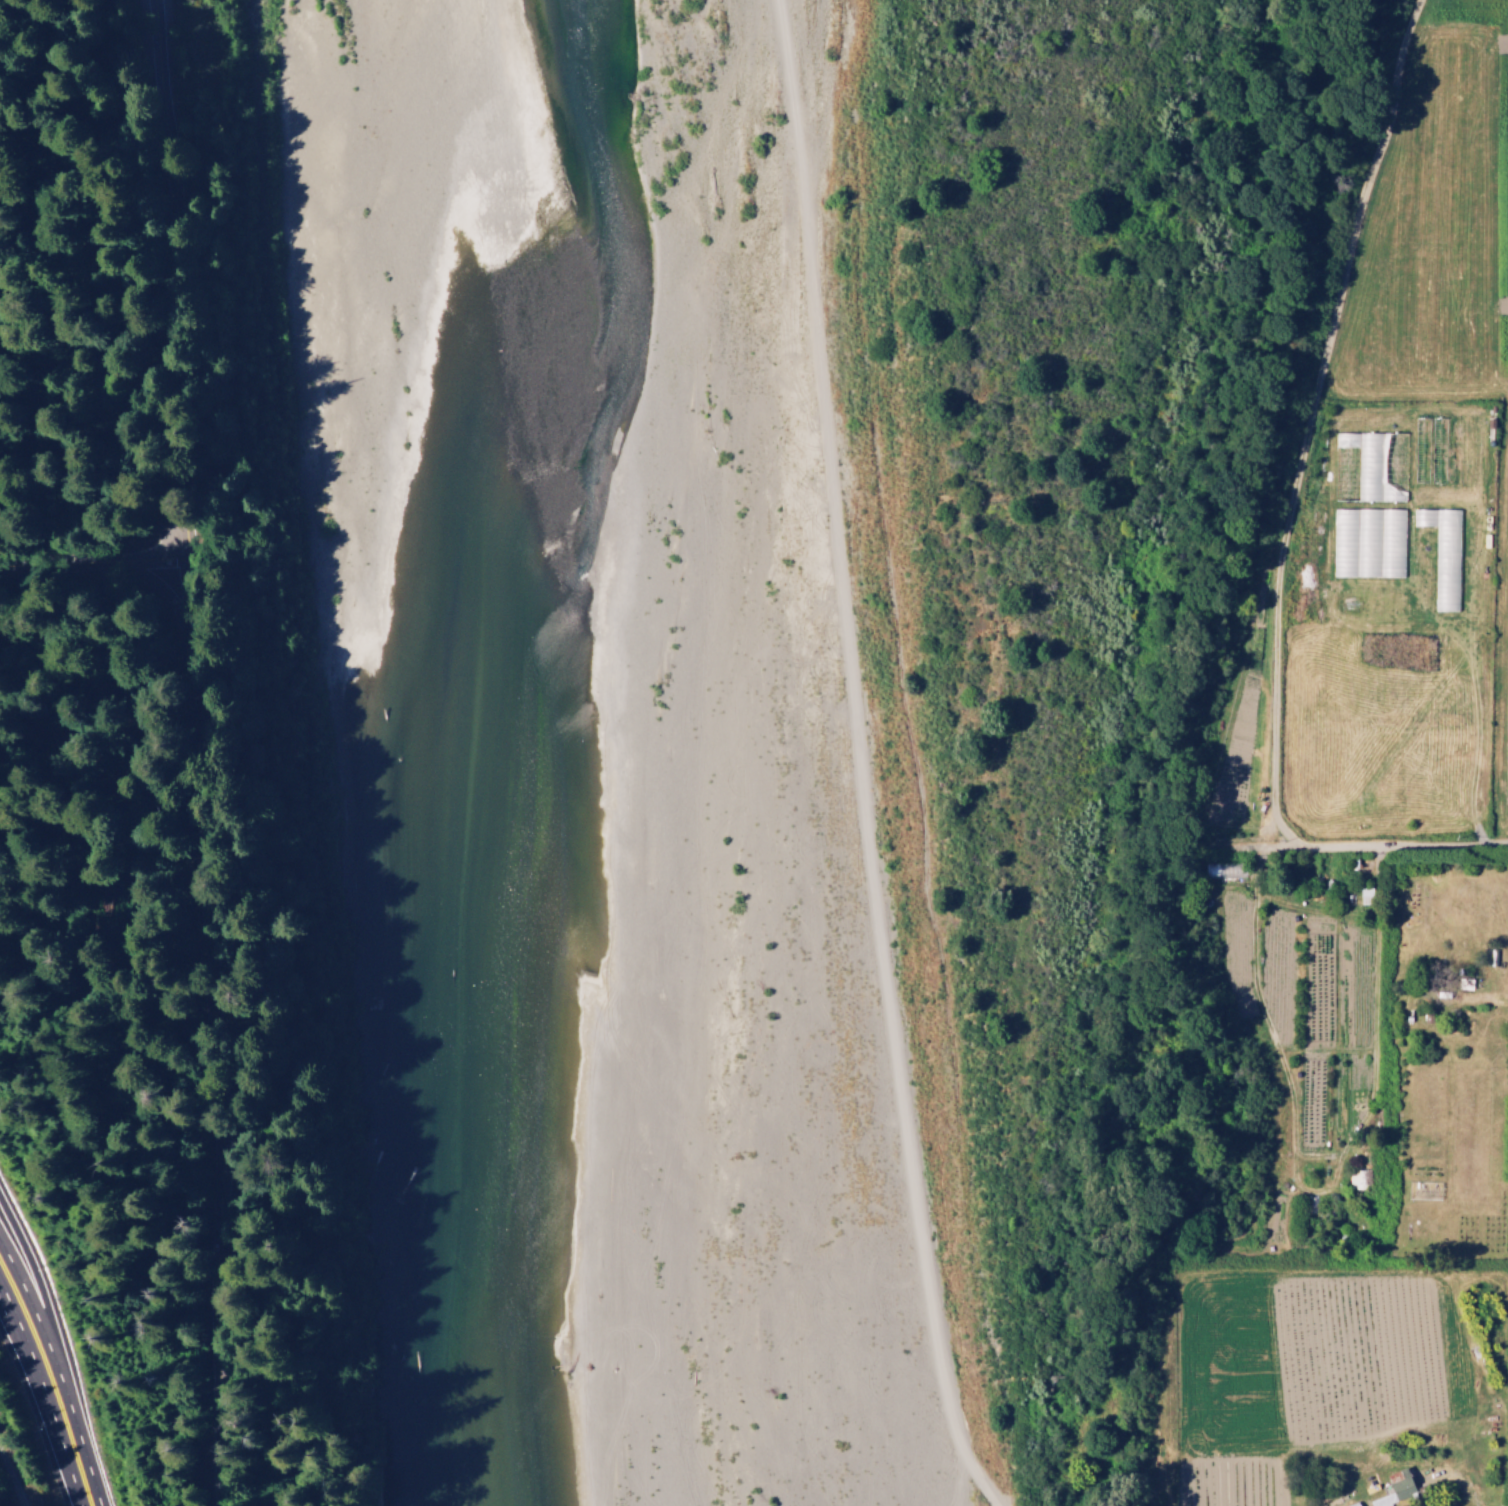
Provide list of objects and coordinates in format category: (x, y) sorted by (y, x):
building: (1368, 543)
road: (91, 557)
river: (967, 752)
road: (184, 753)
road: (1383, 848)
building: (1366, 896)
road: (18, 1250)
road: (13, 1283)
road: (23, 1339)
road: (36, 1339)
road: (68, 1438)
road: (10, 1482)
building: (1396, 1491)
building: (1354, 1504)

